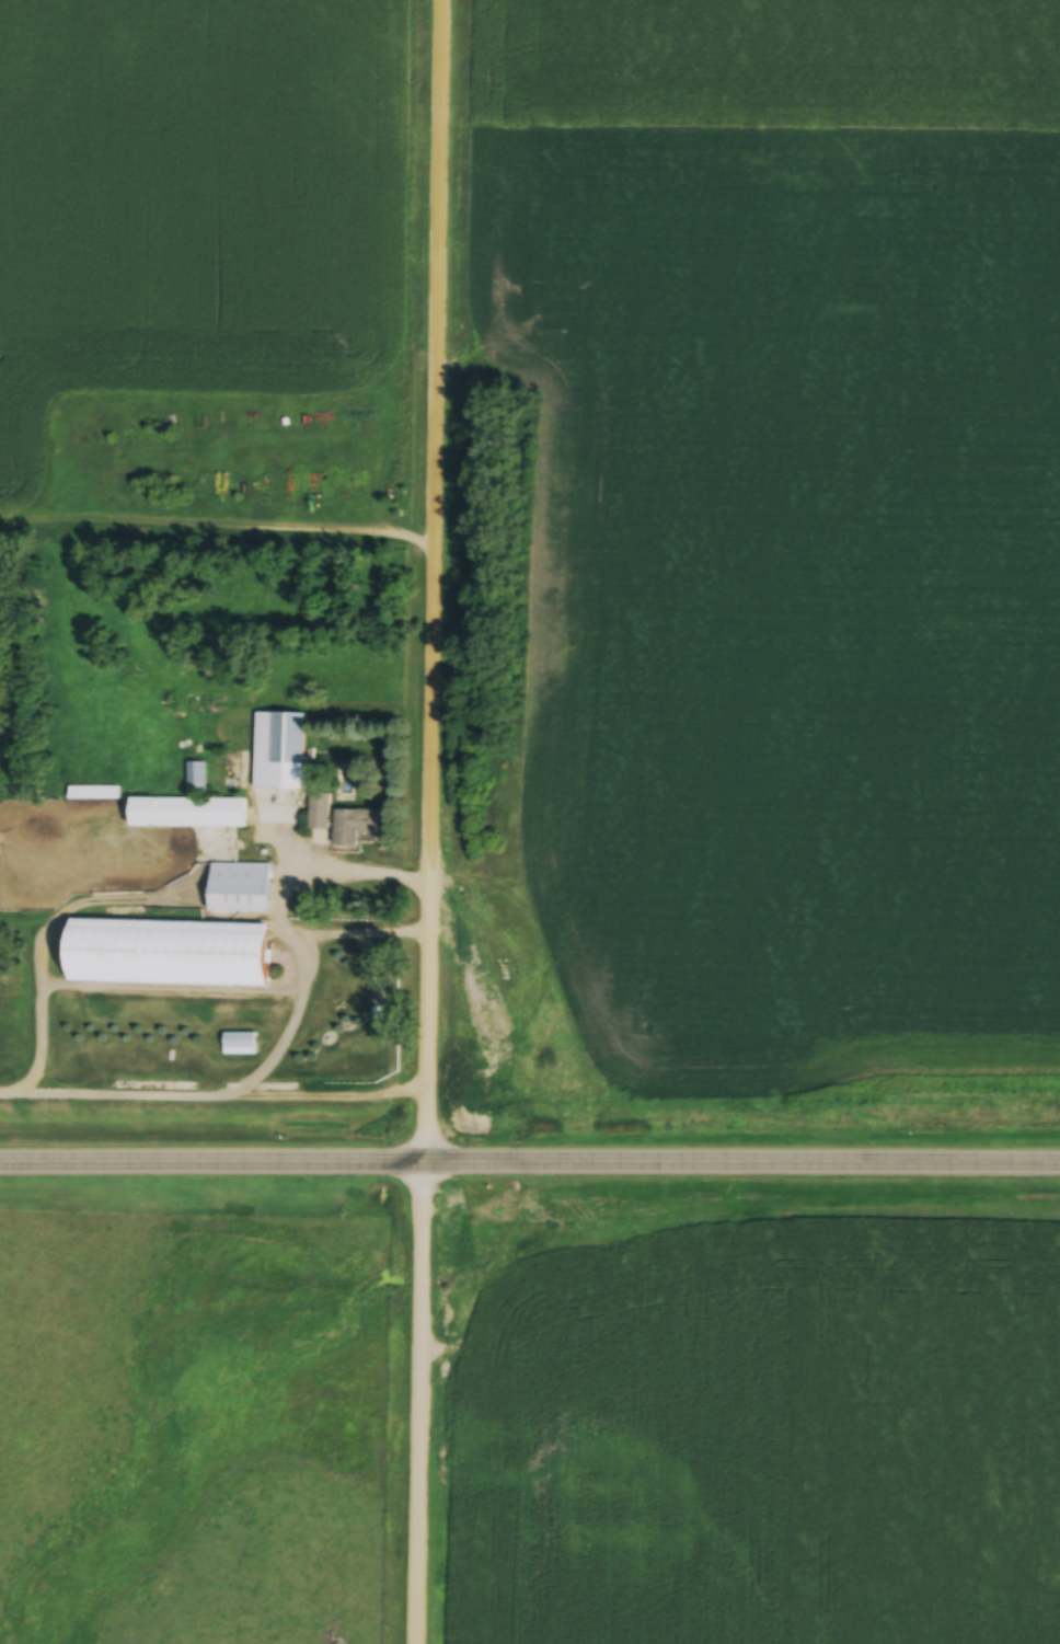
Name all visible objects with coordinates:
building: (284, 757)
building: (186, 810)
building: (316, 814)
road: (436, 821)
building: (352, 829)
building: (237, 890)
road: (278, 918)
building: (226, 933)
road: (359, 934)
road: (118, 986)
building: (237, 1044)
road: (215, 1096)
road: (530, 1166)

